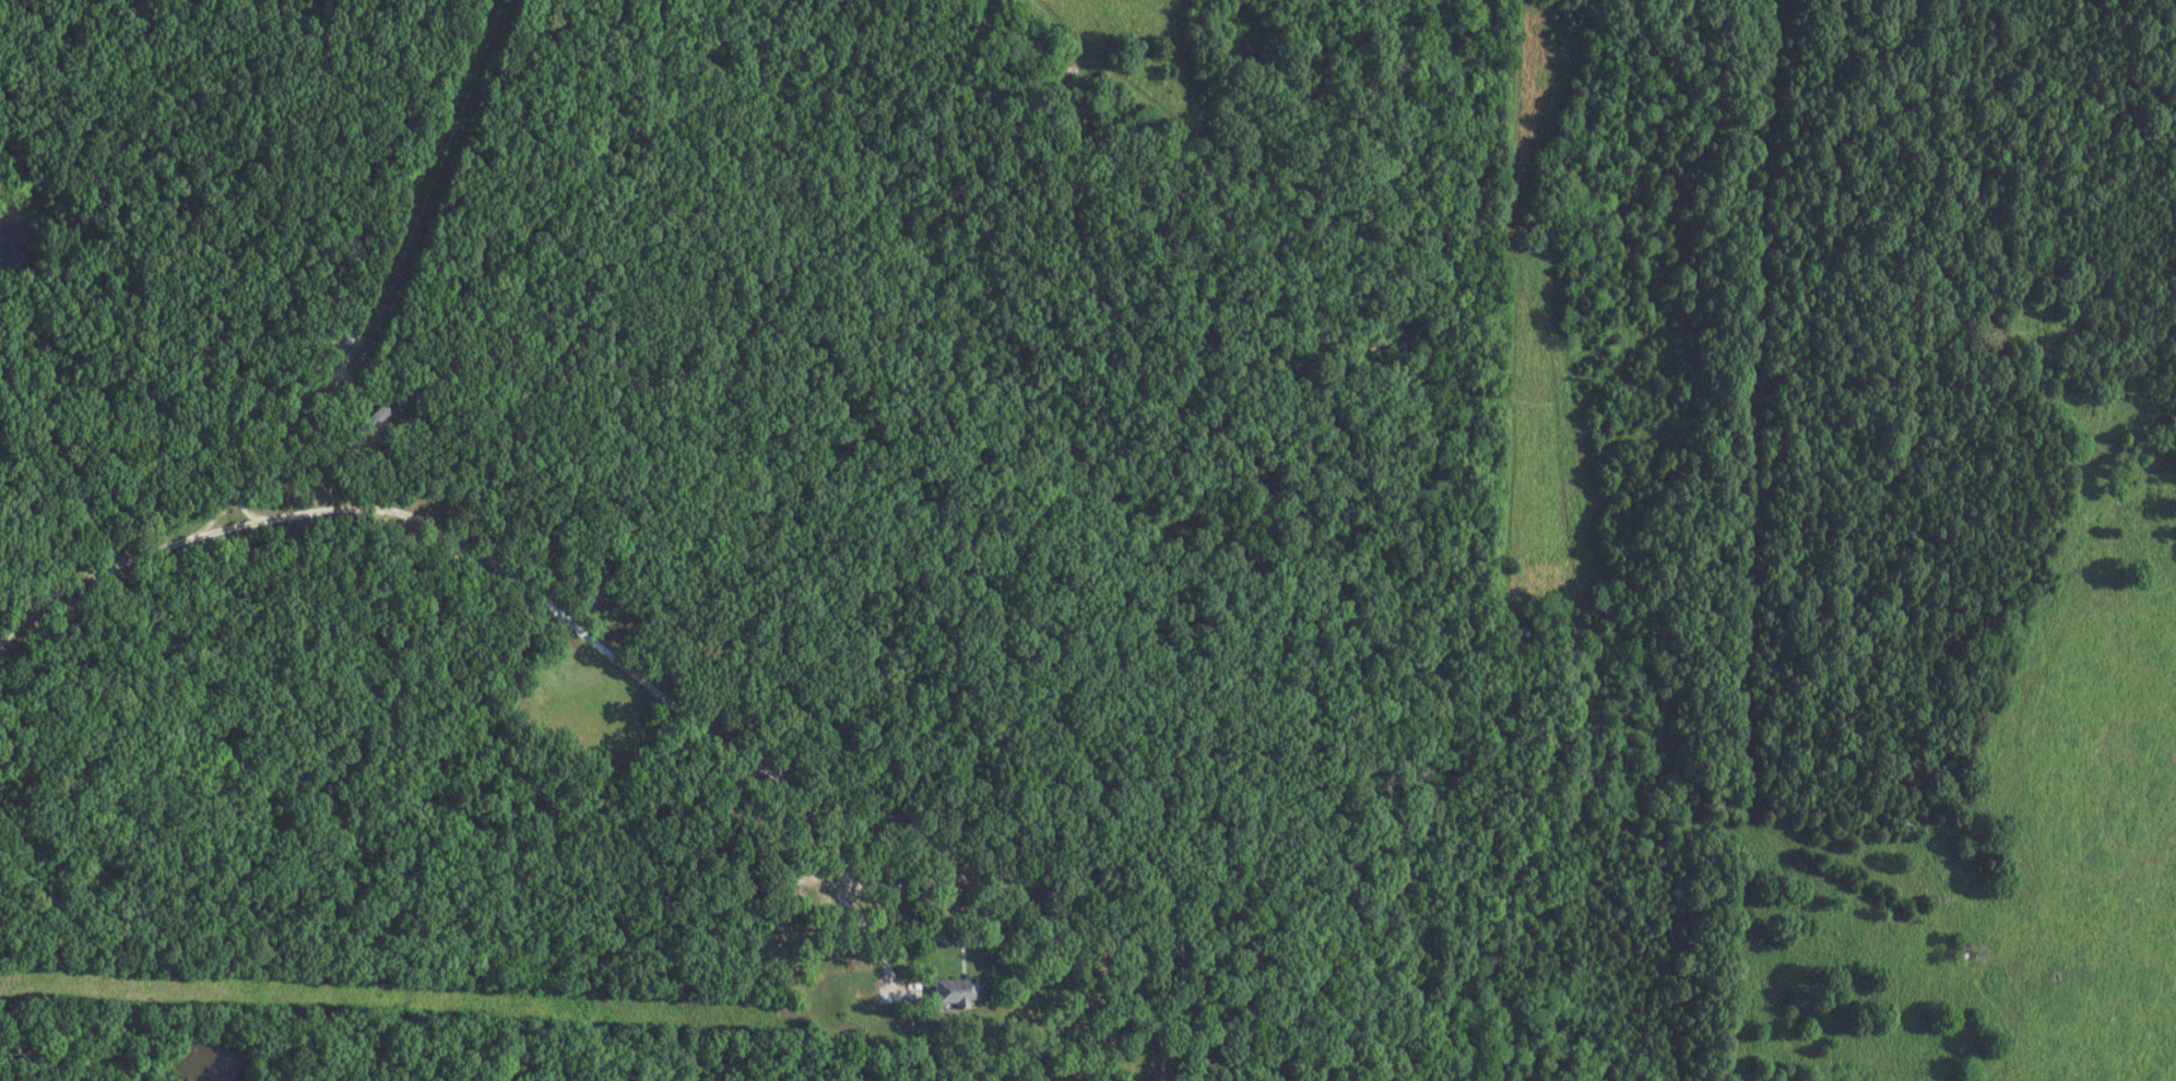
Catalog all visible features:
building: (367, 426)
road: (530, 601)
building: (956, 993)

